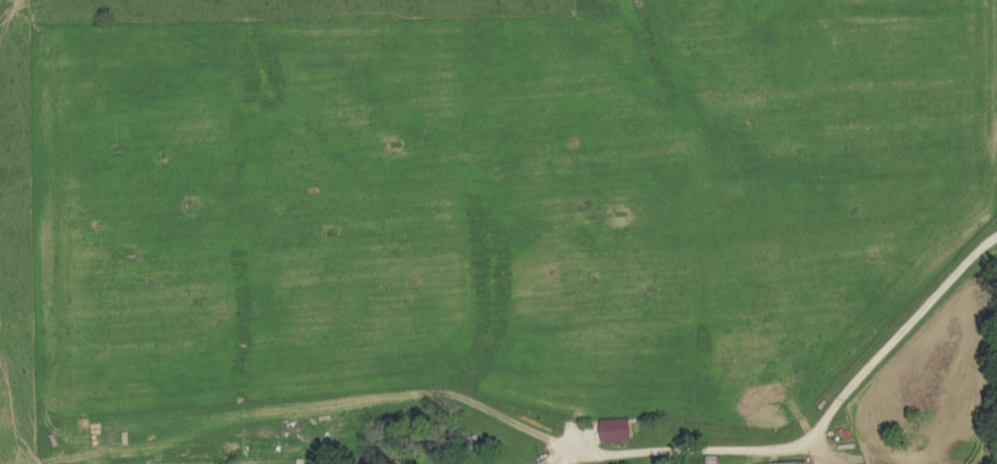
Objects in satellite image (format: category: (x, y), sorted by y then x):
road: (821, 430)
building: (621, 432)
building: (806, 463)

